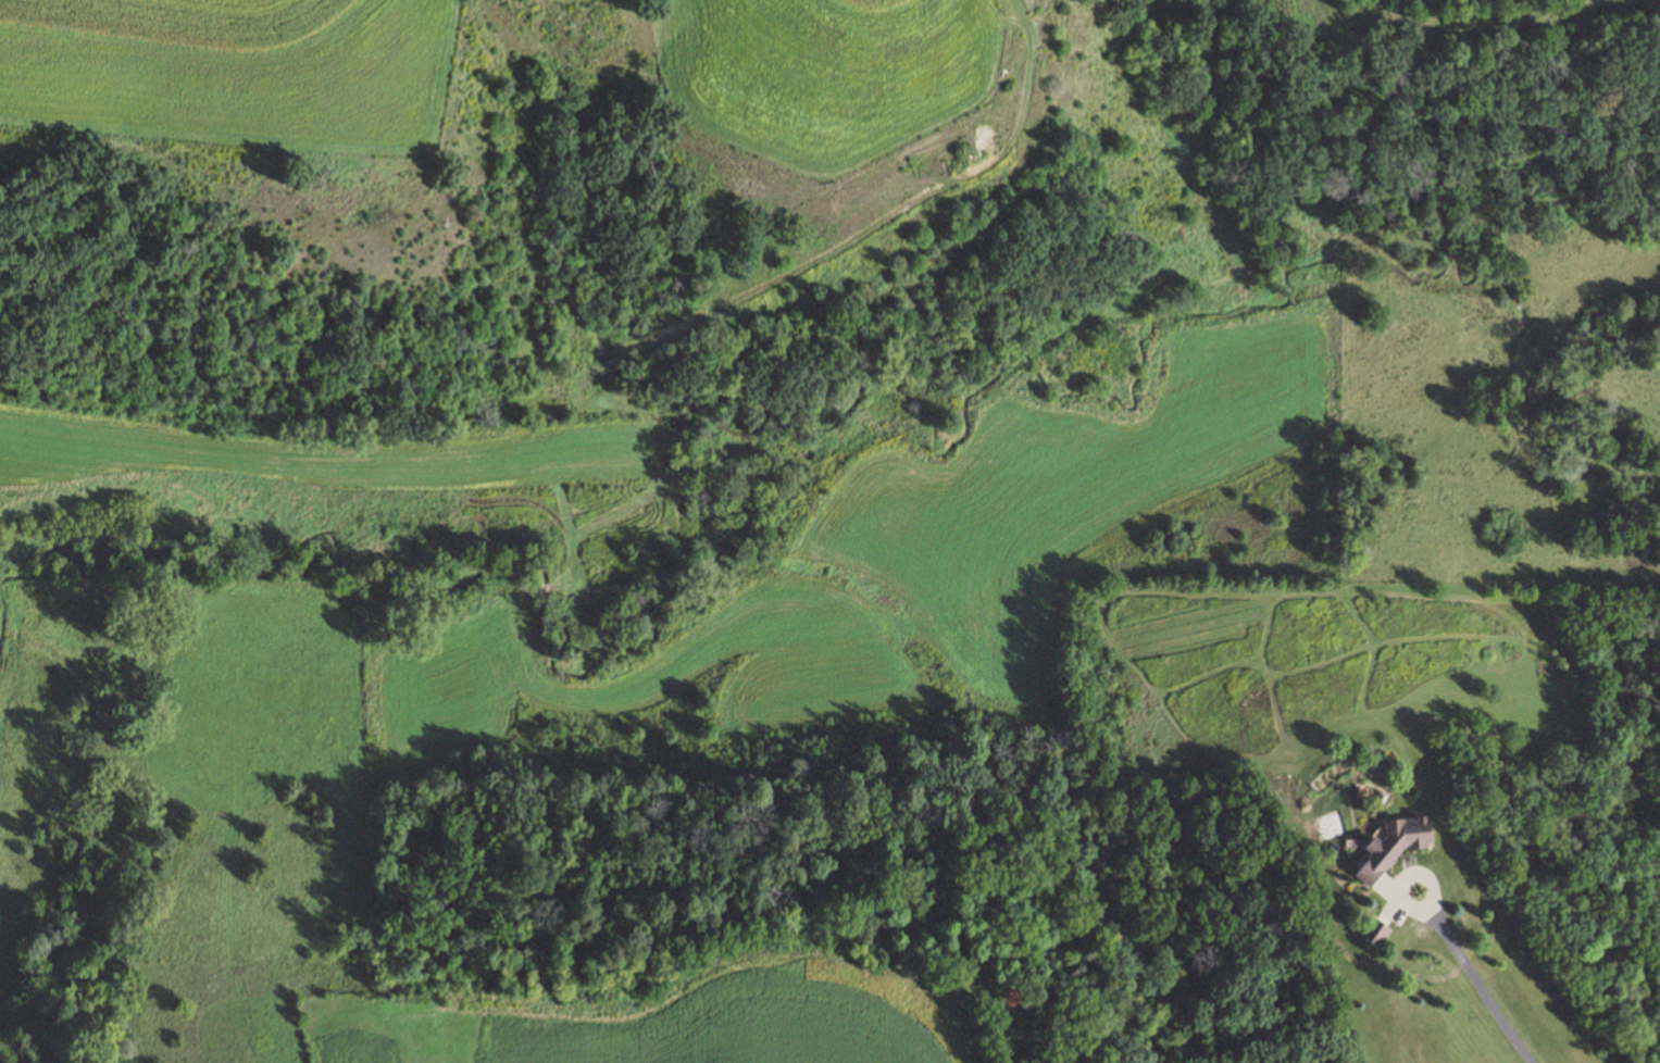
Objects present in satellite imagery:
building: (1395, 847)
road: (1478, 989)

